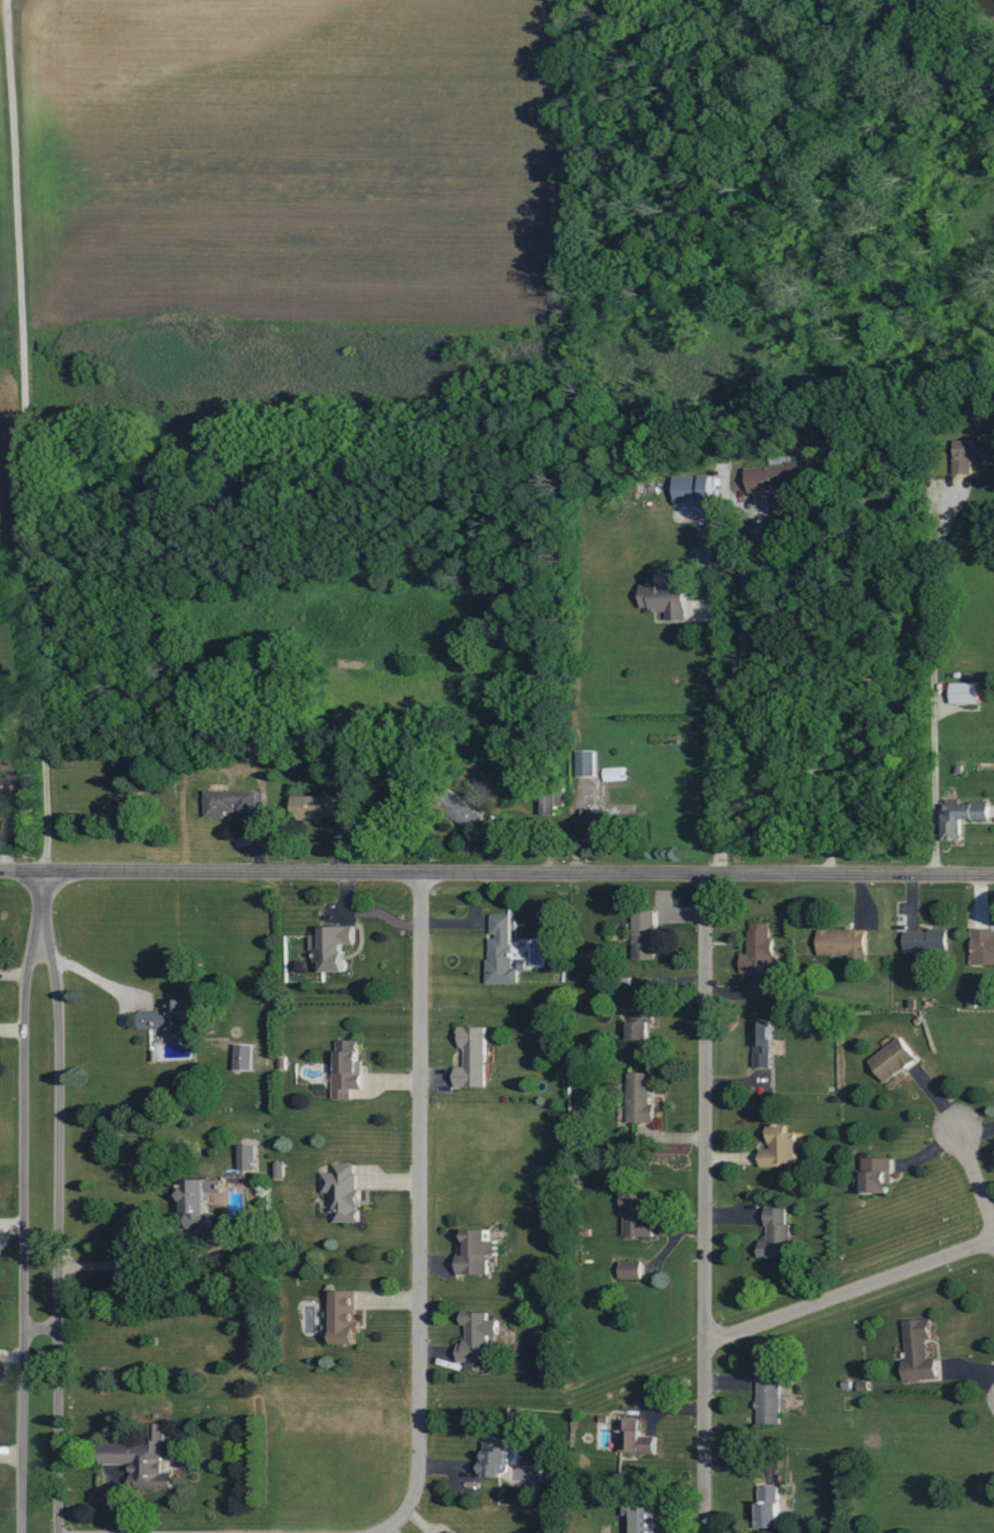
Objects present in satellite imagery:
road: (29, 436)
building: (971, 454)
building: (778, 476)
building: (692, 488)
building: (701, 536)
road: (744, 541)
building: (663, 595)
road: (927, 681)
building: (965, 692)
road: (736, 720)
building: (586, 762)
building: (614, 773)
building: (6, 782)
building: (230, 801)
building: (551, 802)
building: (324, 805)
building: (462, 811)
building: (961, 817)
building: (593, 822)
road: (497, 870)
road: (38, 903)
building: (644, 934)
building: (925, 940)
building: (843, 944)
building: (332, 946)
building: (982, 946)
building: (759, 949)
building: (500, 950)
road: (98, 988)
building: (971, 1001)
building: (170, 1017)
building: (762, 1044)
building: (243, 1056)
building: (472, 1057)
building: (893, 1059)
building: (346, 1069)
building: (640, 1097)
building: (779, 1146)
building: (246, 1157)
building: (877, 1174)
road: (974, 1183)
building: (342, 1193)
building: (198, 1201)
road: (700, 1202)
road: (414, 1208)
building: (636, 1216)
road: (16, 1231)
road: (52, 1231)
building: (776, 1235)
building: (476, 1252)
road: (134, 1269)
building: (629, 1269)
road: (847, 1288)
building: (344, 1317)
road: (34, 1328)
building: (477, 1340)
building: (918, 1351)
building: (768, 1399)
building: (633, 1437)
building: (494, 1458)
building: (141, 1460)
building: (768, 1508)
road: (417, 1519)
building: (643, 1520)
road: (390, 1529)
building: (452, 1532)

